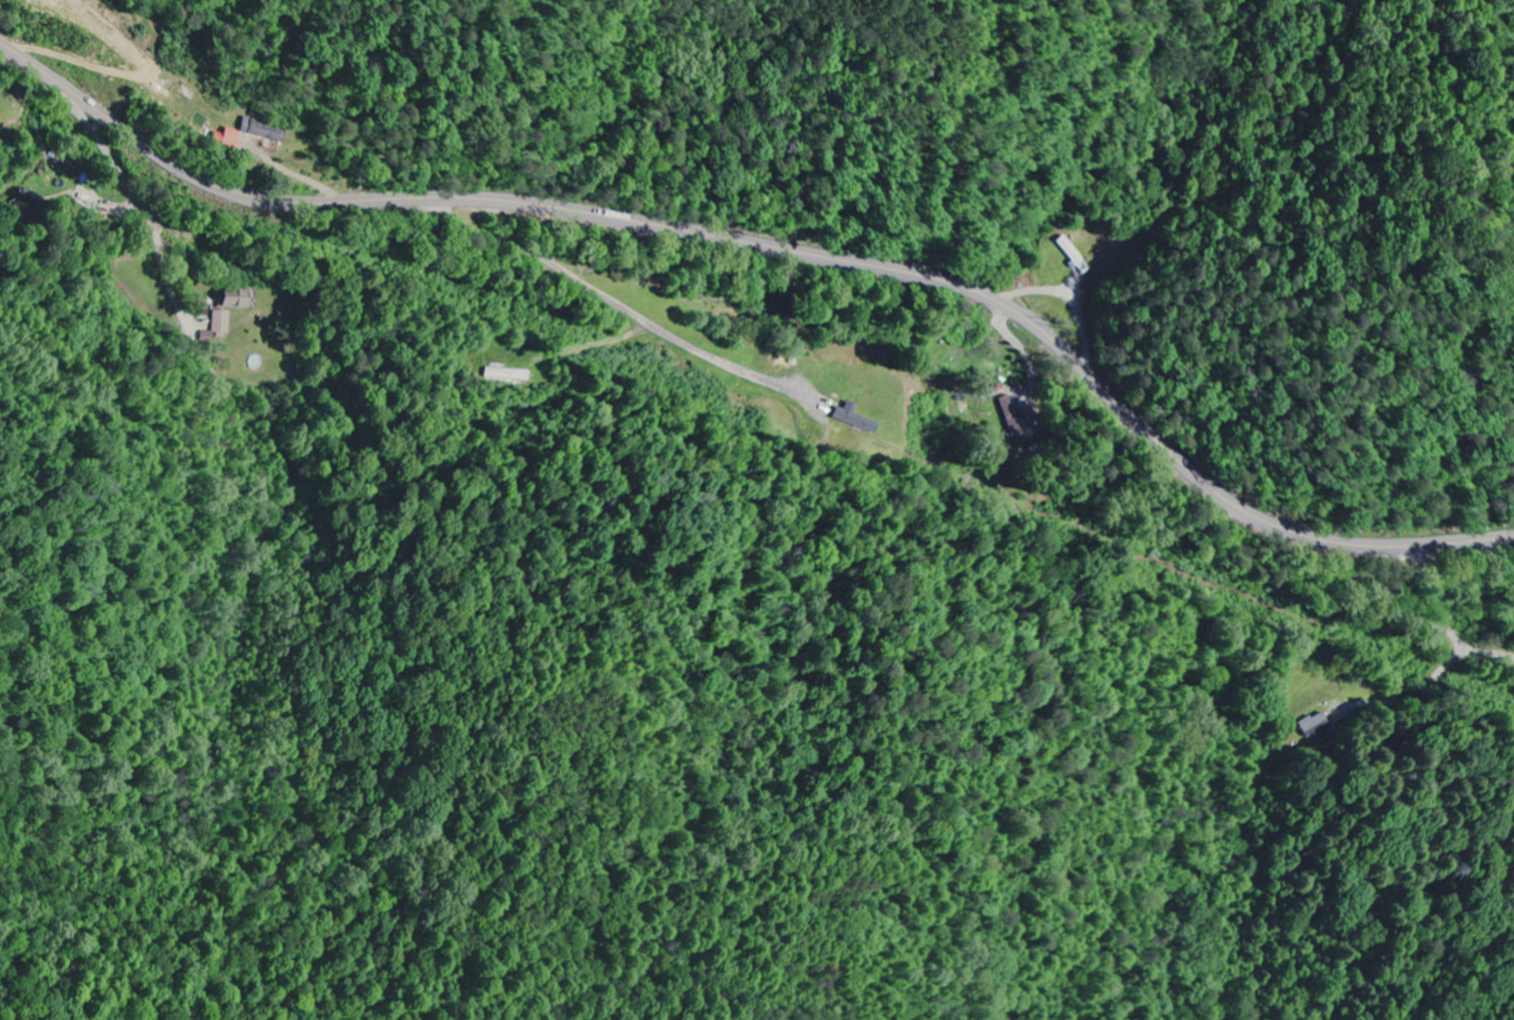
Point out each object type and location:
building: (264, 131)
building: (227, 139)
road: (777, 248)
building: (235, 299)
building: (219, 326)
building: (508, 375)
building: (1014, 419)
building: (856, 420)
road: (1369, 615)

